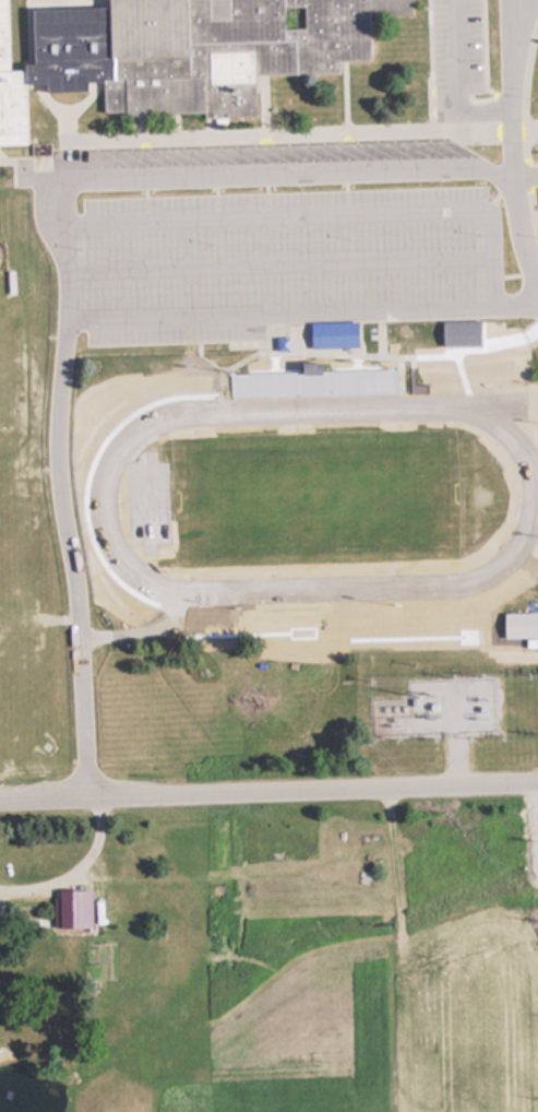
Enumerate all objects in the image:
road: (519, 4)
building: (180, 52)
road: (457, 80)
road: (509, 146)
road: (56, 250)
building: (458, 332)
building: (332, 334)
park: (2, 367)
building: (296, 382)
park: (319, 497)
track: (104, 500)
building: (516, 624)
power substation: (437, 707)
road: (268, 780)

